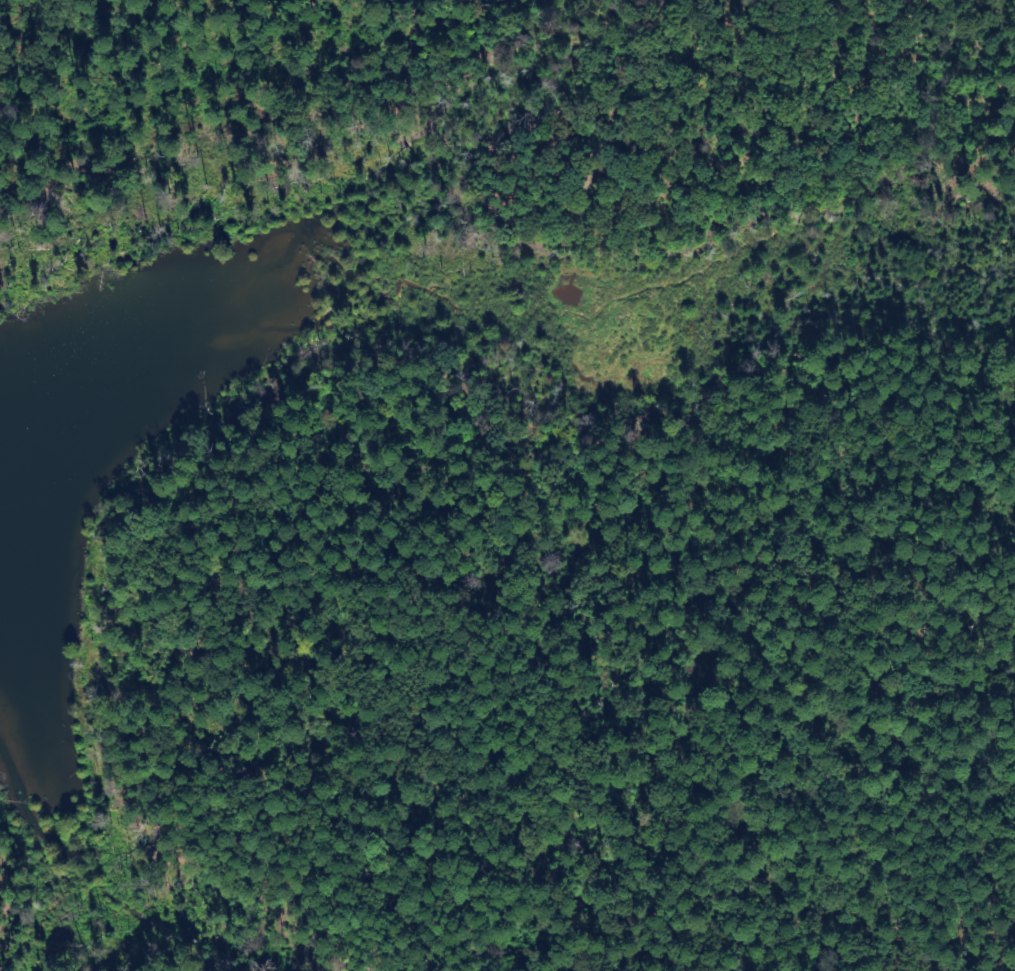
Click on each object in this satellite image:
road: (834, 78)

